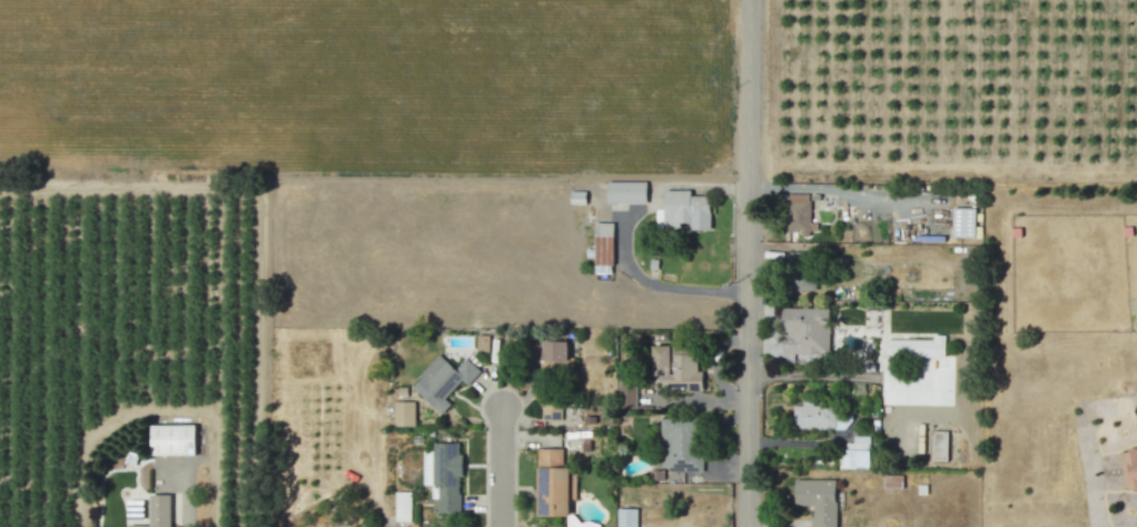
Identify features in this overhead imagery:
crop: (368, 89)
building: (625, 192)
building: (576, 197)
building: (682, 211)
building: (798, 215)
building: (963, 223)
road: (624, 239)
building: (603, 248)
road: (745, 262)
building: (798, 270)
building: (804, 330)
building: (482, 344)
building: (916, 348)
building: (554, 357)
building: (674, 369)
road: (841, 378)
building: (442, 381)
building: (625, 394)
building: (550, 409)
building: (403, 414)
building: (819, 417)
building: (171, 440)
building: (678, 445)
building: (939, 446)
building: (854, 454)
road: (498, 467)
building: (1129, 468)
building: (443, 477)
building: (891, 481)
building: (553, 484)
building: (817, 500)
building: (402, 506)
building: (157, 511)
building: (625, 517)
road: (378, 521)

